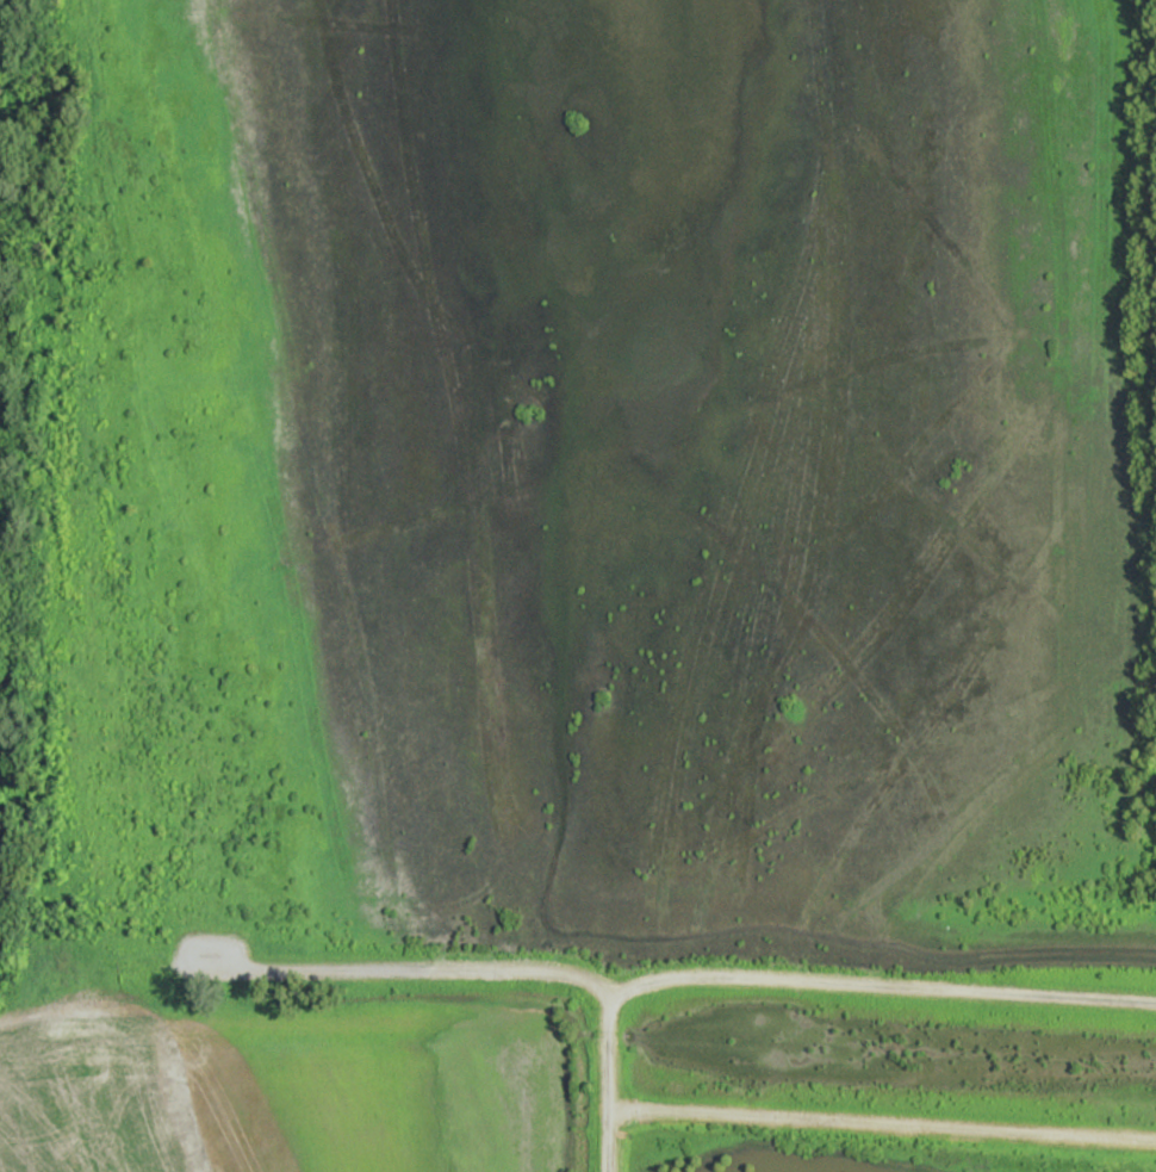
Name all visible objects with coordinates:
road: (383, 969)
road: (797, 981)
road: (883, 1123)

